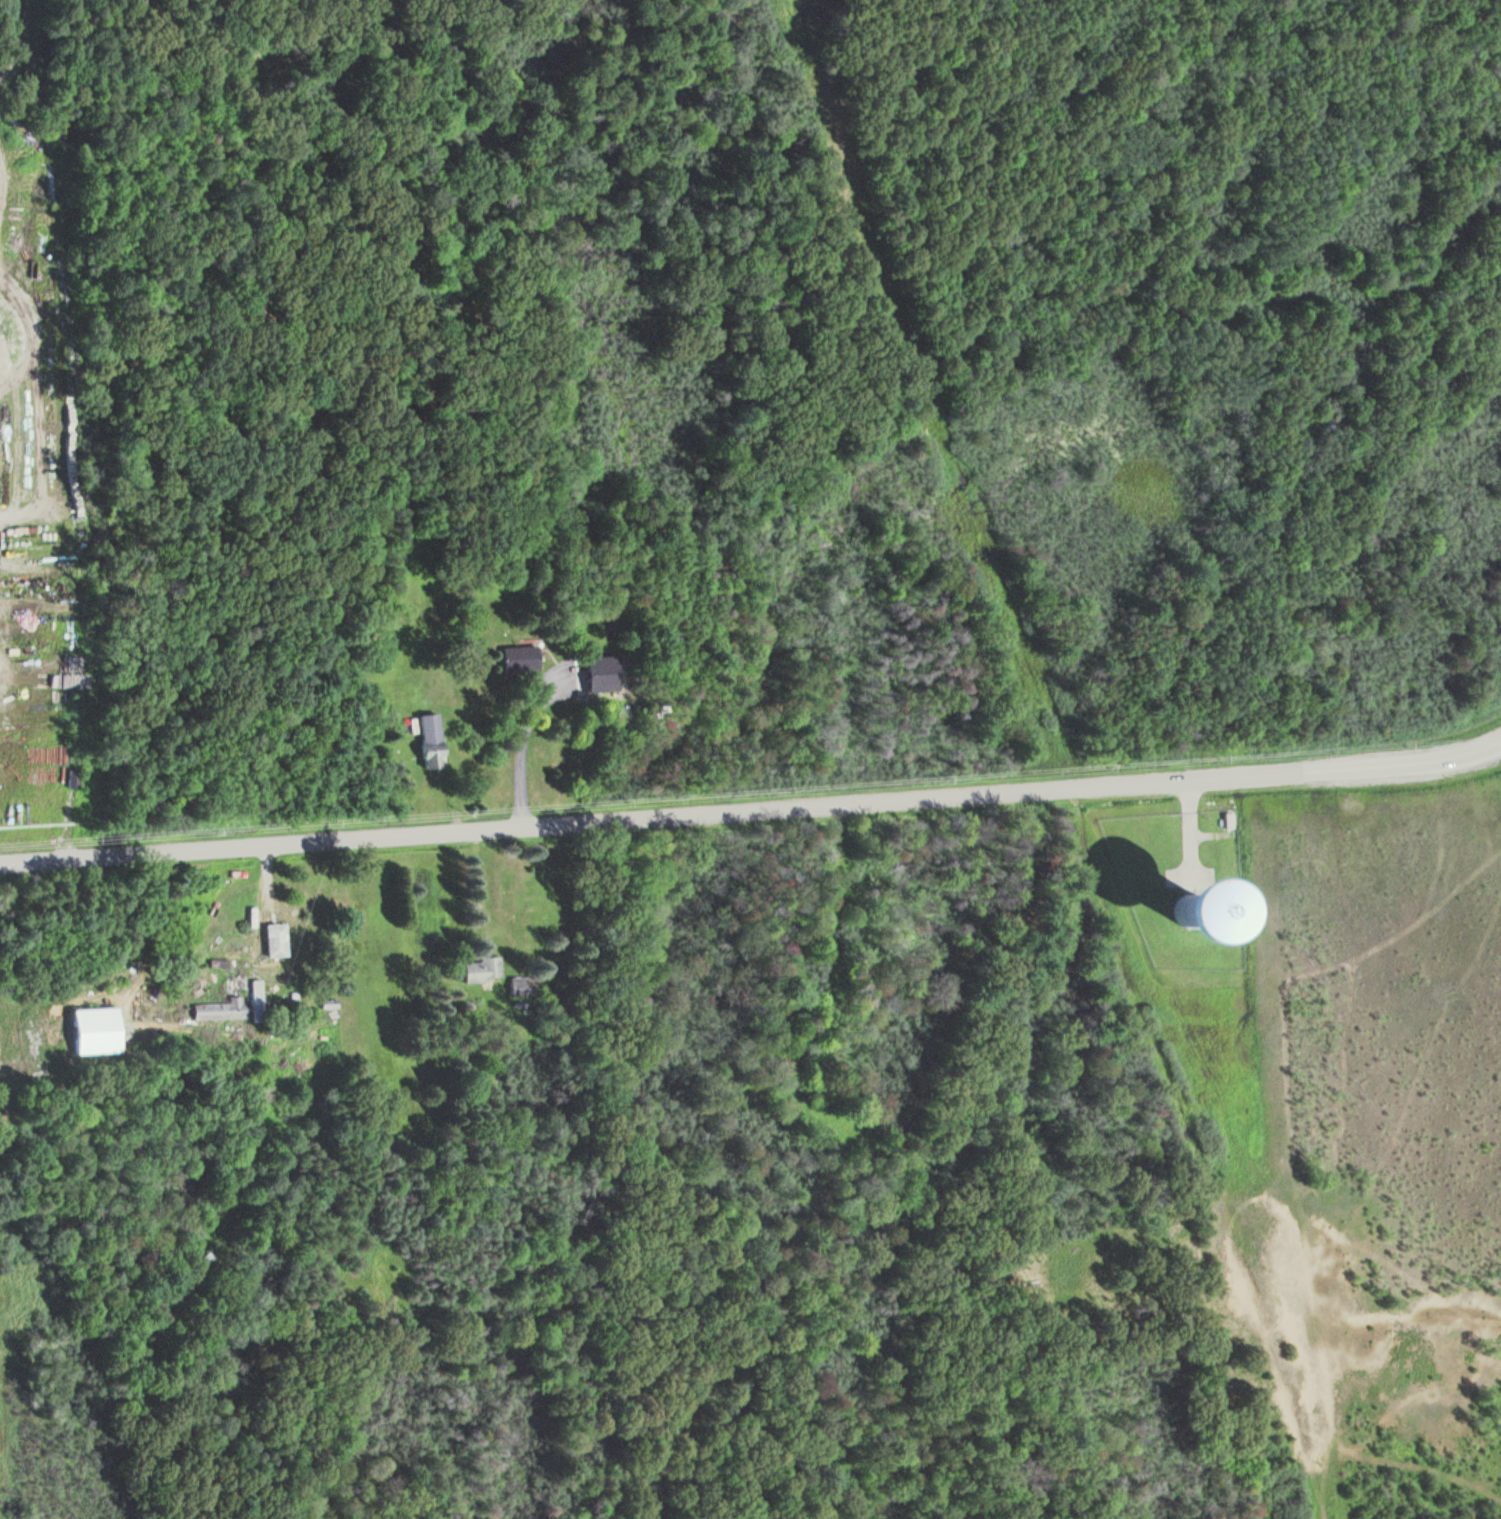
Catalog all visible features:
building: (520, 658)
building: (602, 673)
building: (432, 741)
road: (751, 810)
building: (1200, 917)
water tower: (1198, 918)
building: (275, 939)
building: (482, 968)
park: (1190, 983)
building: (234, 984)
building: (218, 1006)
building: (95, 1029)
building: (206, 1258)

